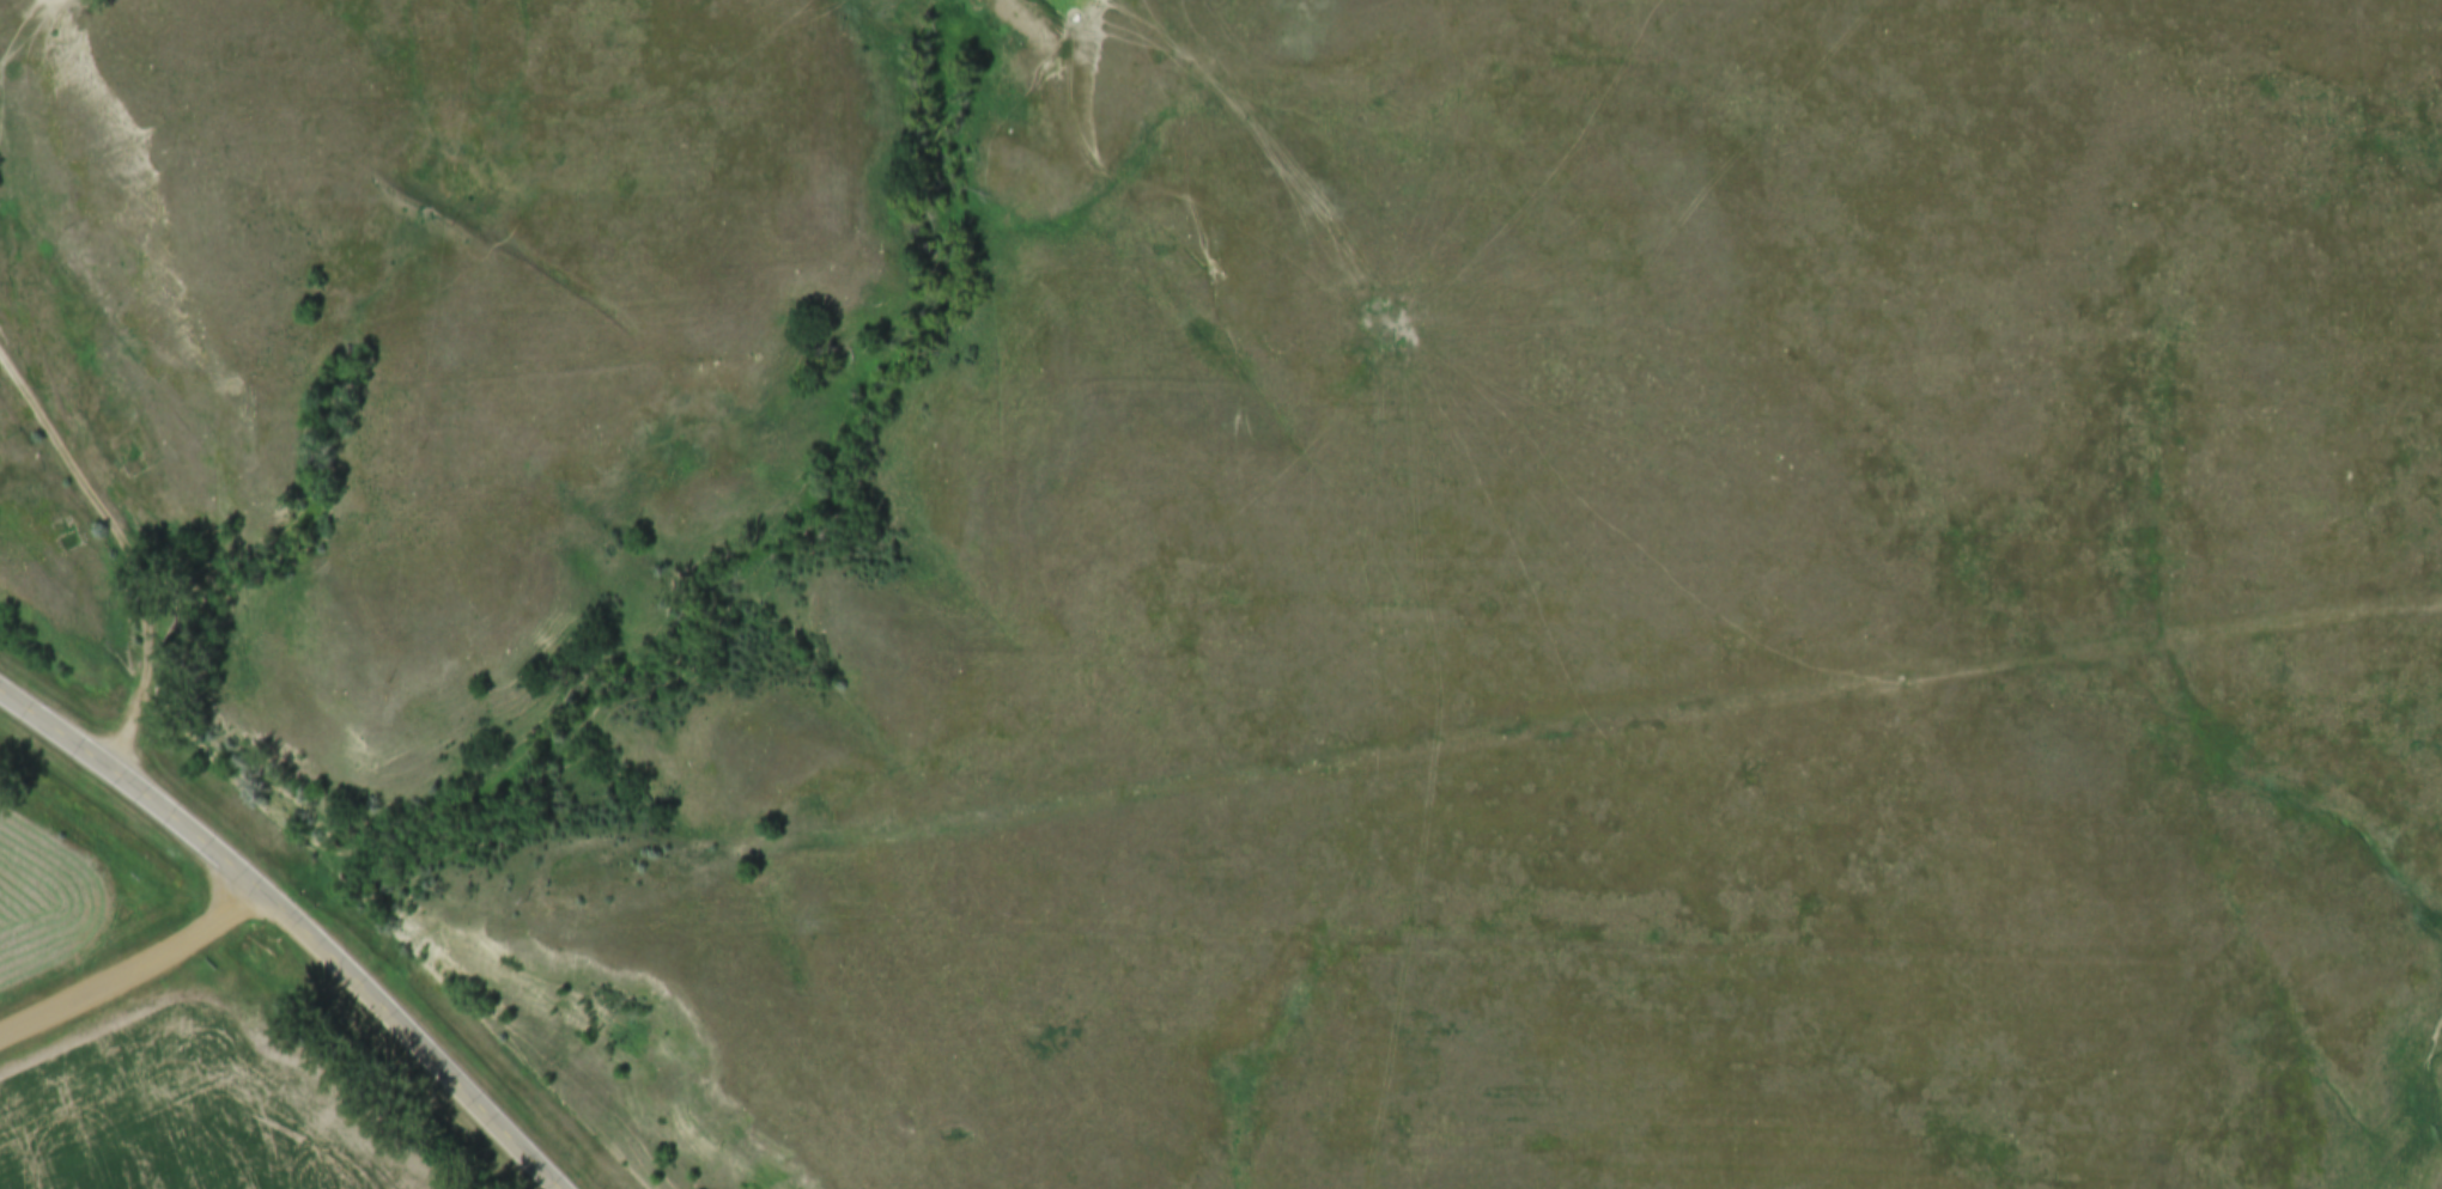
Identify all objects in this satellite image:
road: (292, 922)
road: (135, 971)

